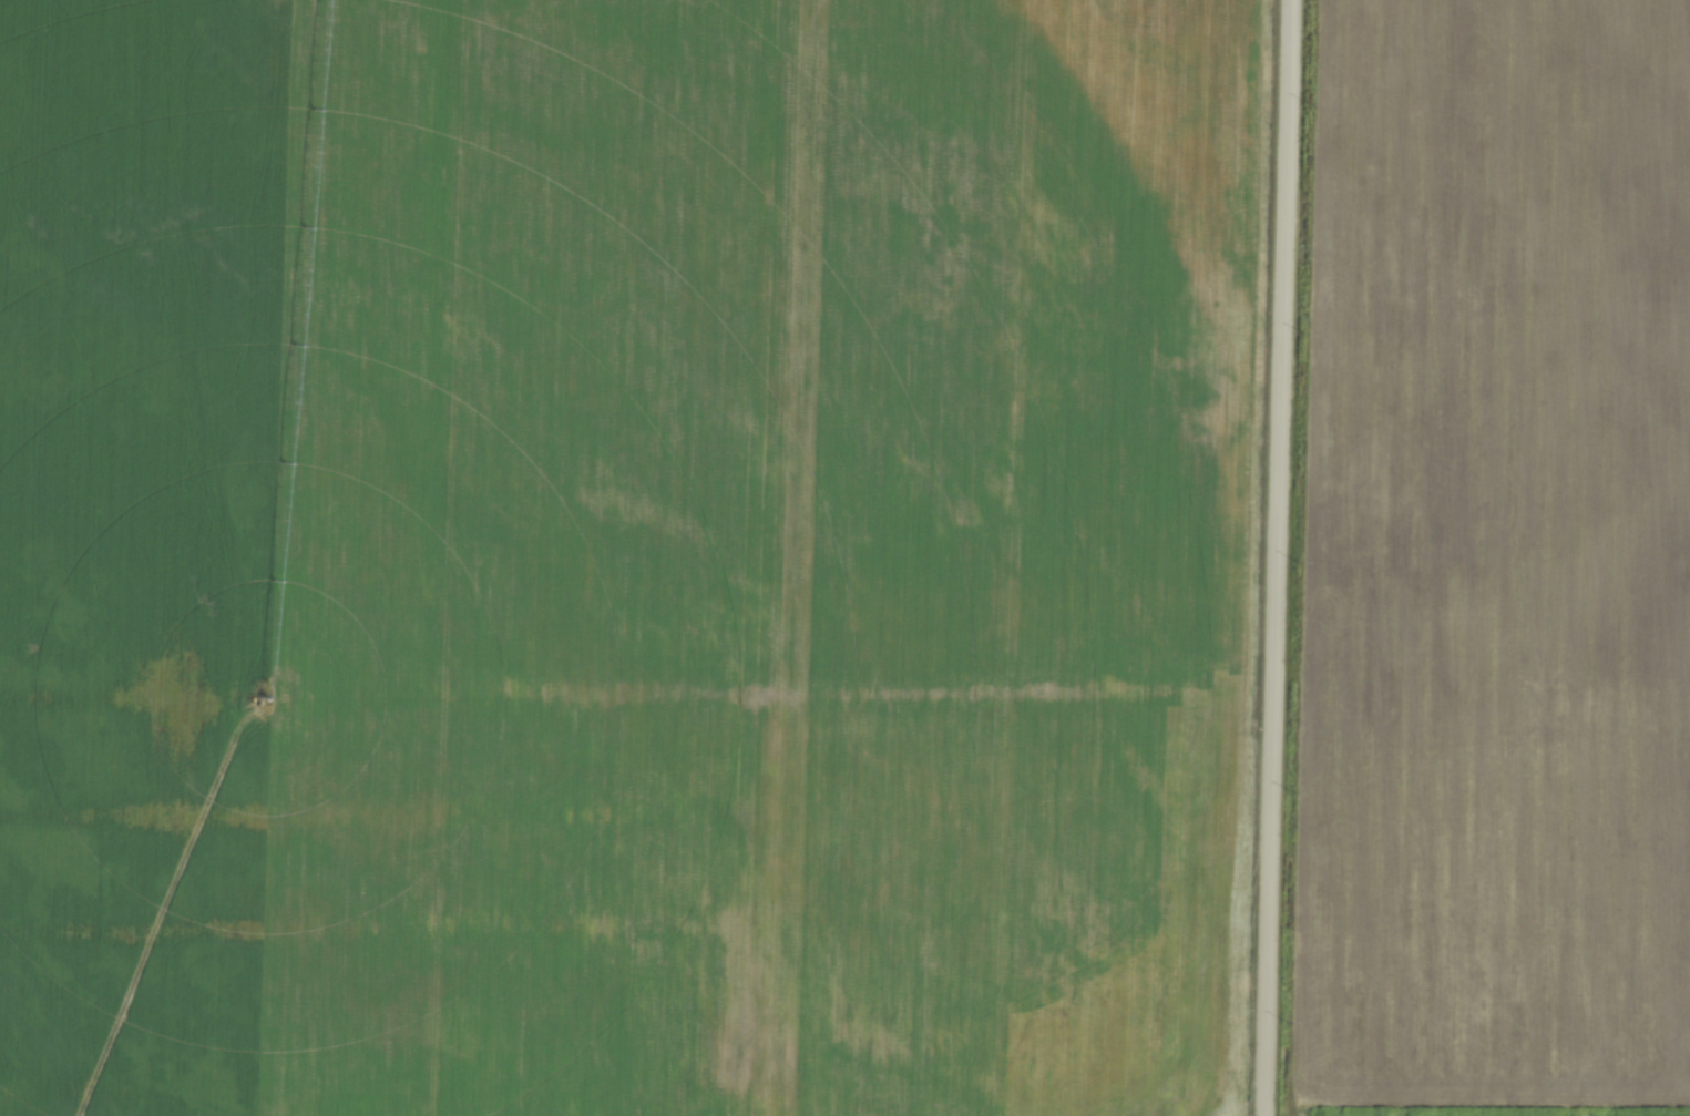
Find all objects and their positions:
road: (1277, 557)

